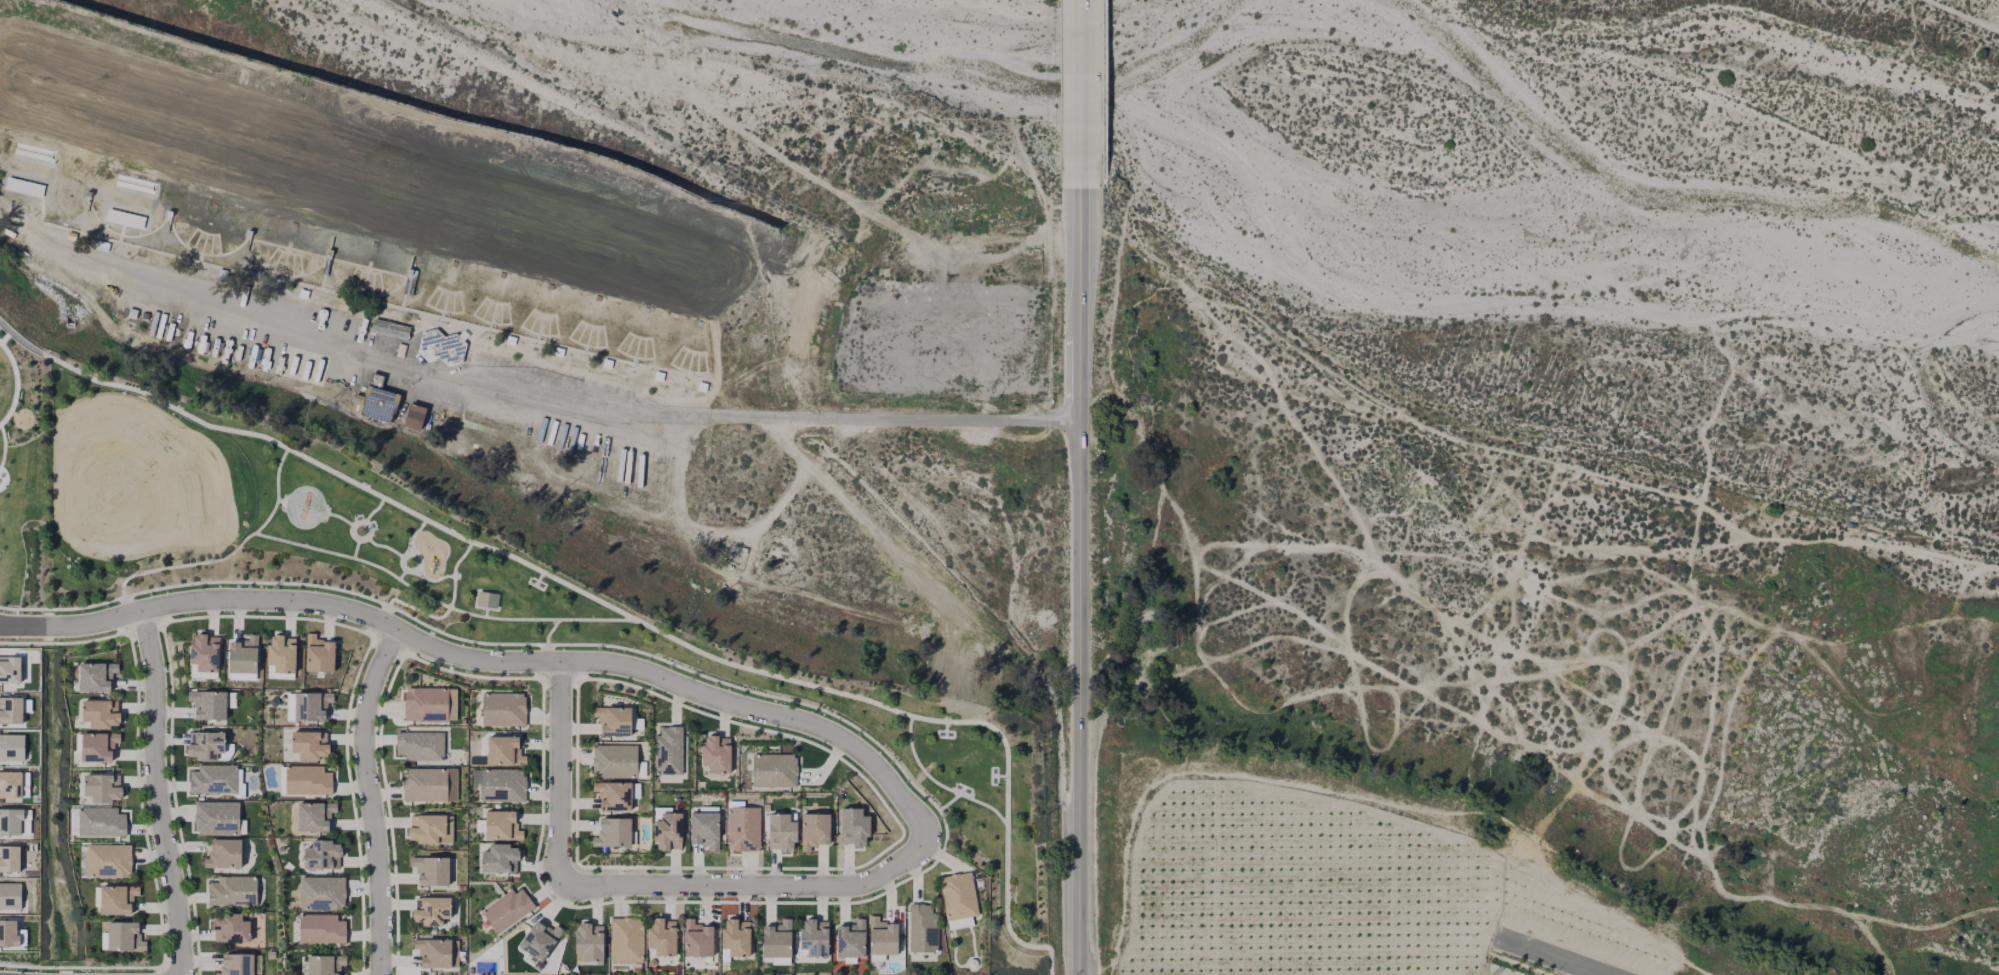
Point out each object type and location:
river: (908, 69)
road: (1083, 95)
river: (1577, 239)
road: (1081, 266)
building: (302, 293)
building: (390, 326)
road: (312, 336)
road: (5, 337)
road: (19, 339)
building: (508, 339)
building: (439, 347)
building: (557, 351)
building: (606, 361)
building: (657, 376)
road: (1078, 380)
road: (15, 383)
building: (699, 386)
building: (375, 402)
road: (11, 412)
road: (856, 415)
building: (413, 416)
road: (3, 445)
park: (303, 507)
road: (374, 510)
road: (341, 519)
road: (368, 532)
road: (384, 547)
road: (354, 548)
road: (230, 556)
road: (418, 556)
road: (404, 557)
road: (455, 573)
road: (435, 580)
park: (429, 586)
building: (487, 600)
road: (437, 602)
road: (418, 611)
road: (623, 615)
road: (547, 639)
building: (205, 652)
building: (282, 654)
building: (319, 654)
building: (243, 655)
road: (486, 660)
building: (9, 669)
building: (97, 676)
road: (1083, 697)
building: (209, 705)
building: (425, 706)
building: (503, 708)
building: (310, 709)
building: (10, 710)
building: (101, 714)
building: (614, 719)
building: (206, 745)
building: (98, 746)
building: (11, 747)
building: (420, 747)
building: (308, 748)
building: (503, 750)
building: (668, 751)
building: (717, 754)
building: (615, 760)
road: (558, 770)
building: (774, 770)
building: (212, 780)
building: (307, 782)
building: (10, 784)
building: (503, 784)
road: (940, 785)
building: (424, 786)
building: (103, 788)
road: (1355, 788)
road: (156, 793)
building: (614, 794)
road: (370, 799)
road: (949, 803)
building: (216, 817)
building: (314, 819)
building: (100, 821)
building: (10, 822)
building: (501, 824)
building: (743, 830)
building: (854, 830)
building: (668, 831)
building: (426, 832)
building: (705, 832)
building: (814, 832)
building: (613, 833)
building: (782, 834)
building: (224, 854)
building: (322, 858)
building: (499, 858)
building: (9, 859)
building: (107, 860)
building: (430, 874)
road: (751, 887)
building: (231, 890)
building: (321, 895)
building: (959, 895)
building: (10, 896)
building: (118, 899)
building: (507, 909)
building: (431, 914)
building: (959, 923)
building: (231, 928)
building: (923, 928)
building: (321, 931)
building: (8, 934)
building: (662, 936)
building: (125, 937)
building: (735, 937)
building: (882, 937)
building: (814, 938)
building: (626, 939)
building: (697, 939)
building: (777, 939)
building: (540, 940)
building: (852, 940)
building: (589, 942)
building: (271, 955)
building: (434, 955)
road: (1556, 957)
building: (775, 960)
building: (237, 964)
building: (324, 966)
road: (1594, 973)

